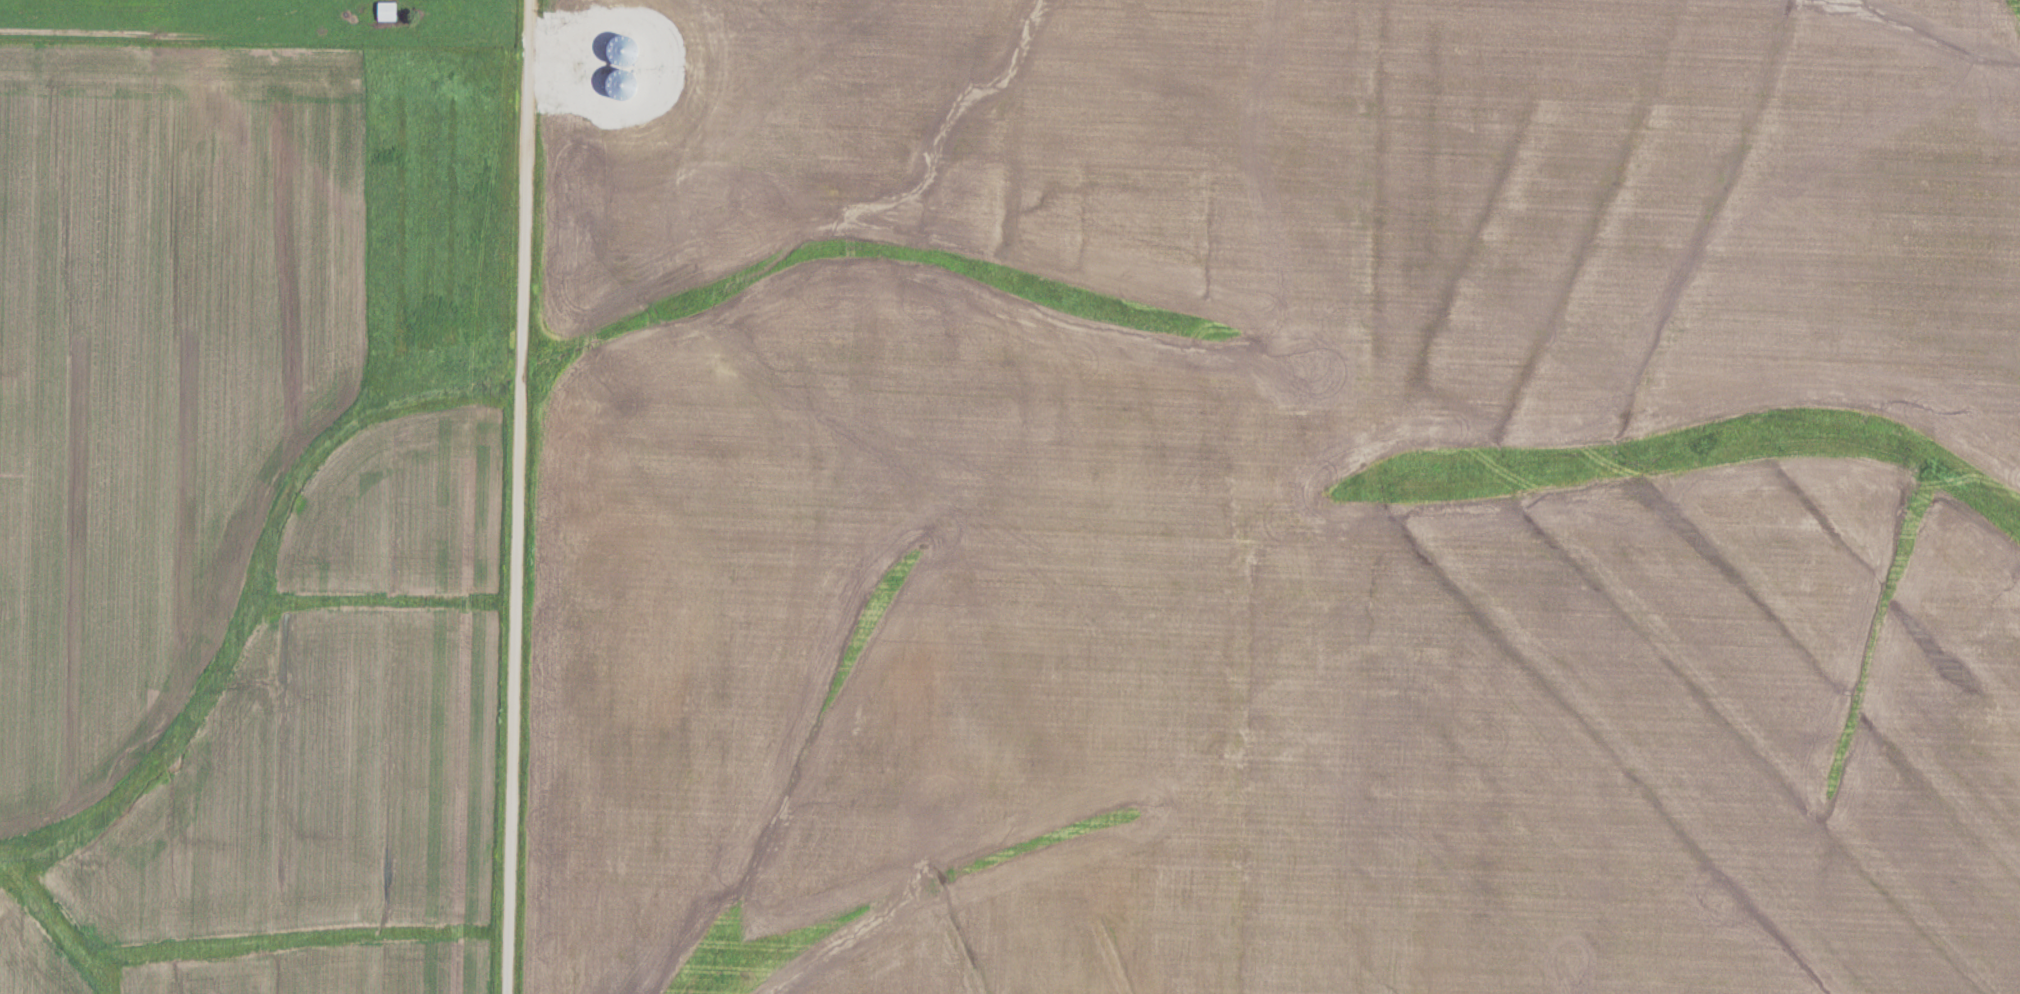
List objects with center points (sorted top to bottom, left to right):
building: (387, 11)
road: (508, 497)
crop: (1276, 498)
crop: (231, 550)

